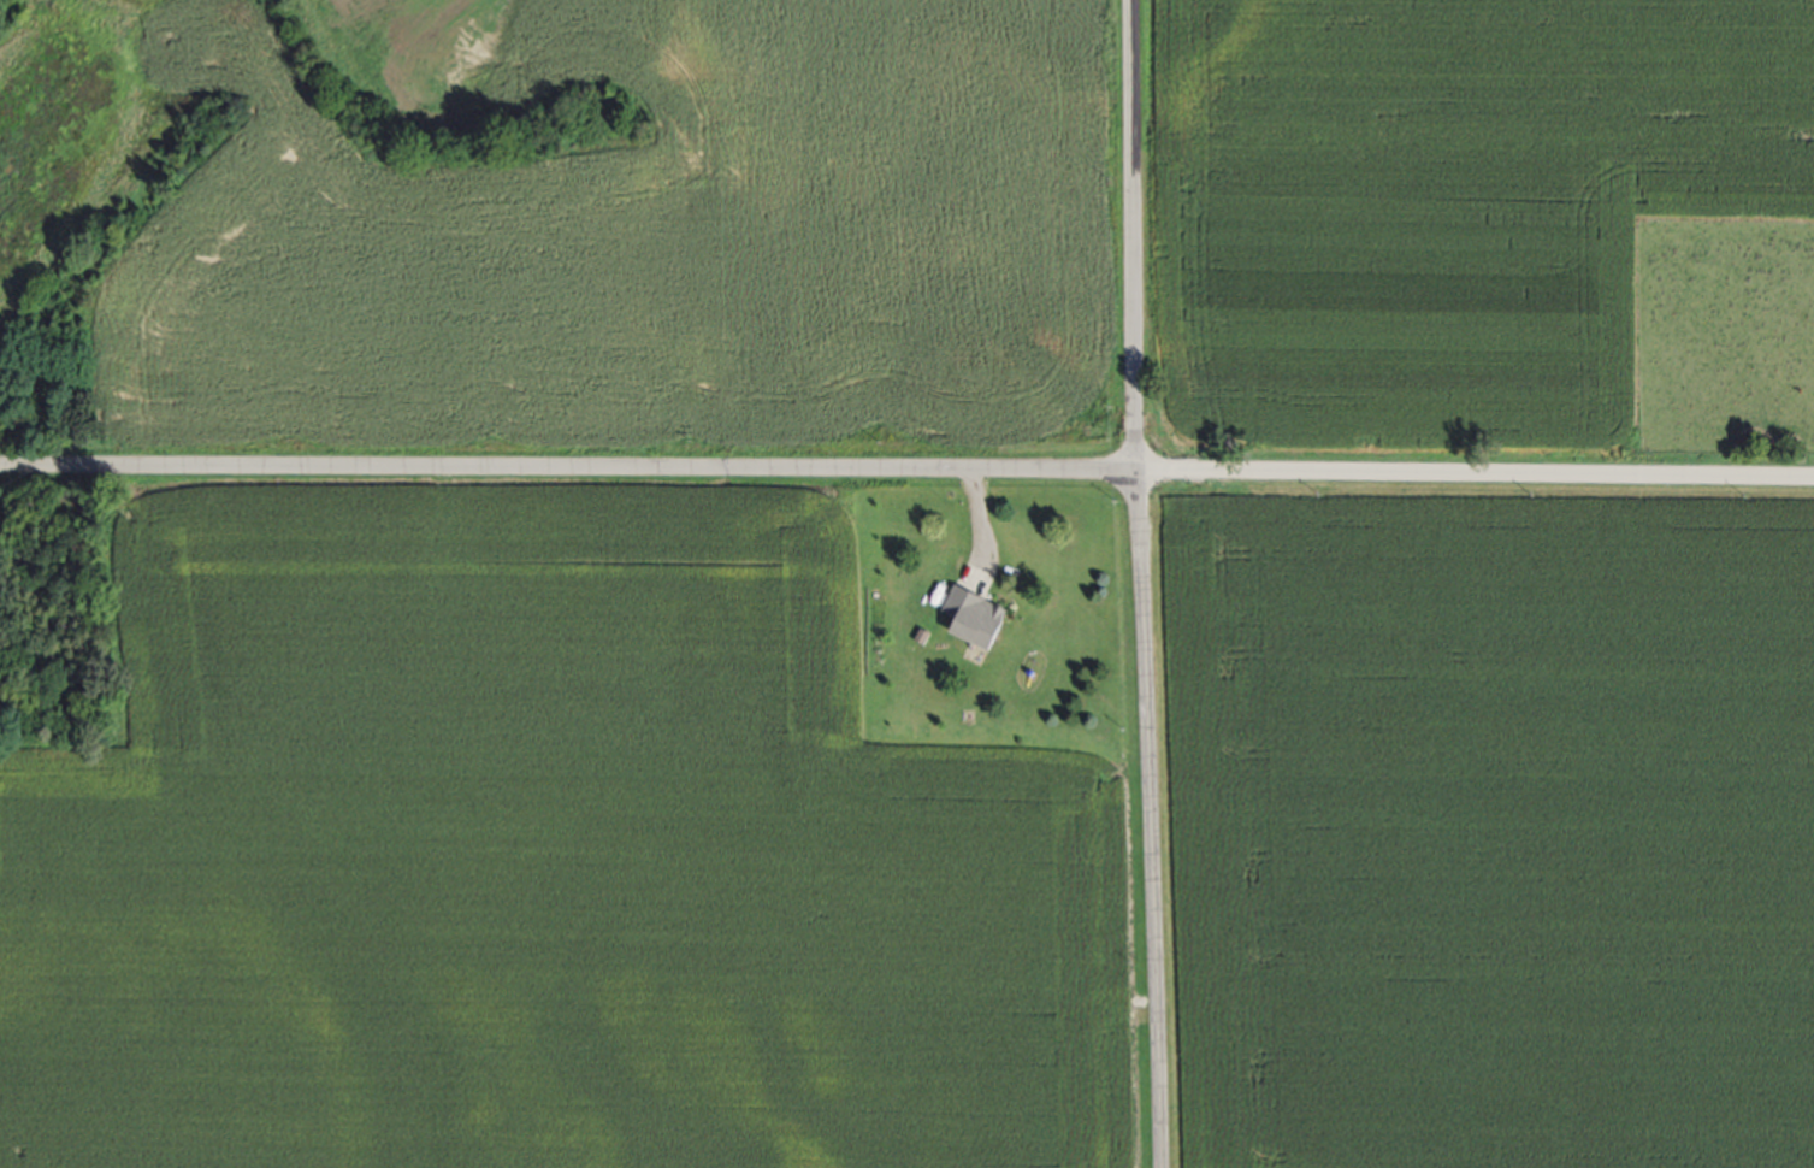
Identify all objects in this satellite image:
road: (1131, 241)
road: (567, 474)
road: (1473, 485)
building: (979, 617)
road: (1145, 825)

